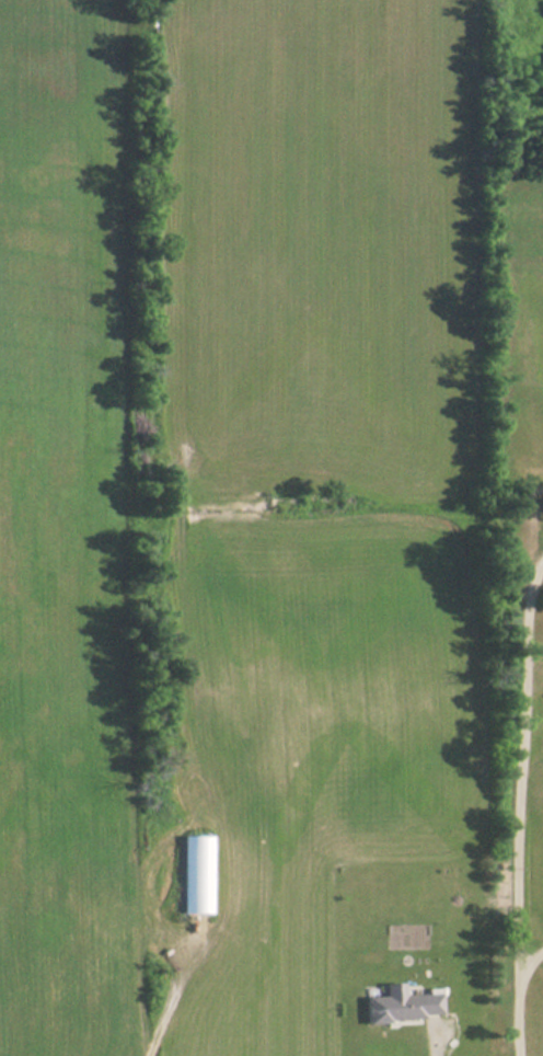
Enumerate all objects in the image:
building: (195, 875)
building: (401, 1008)

